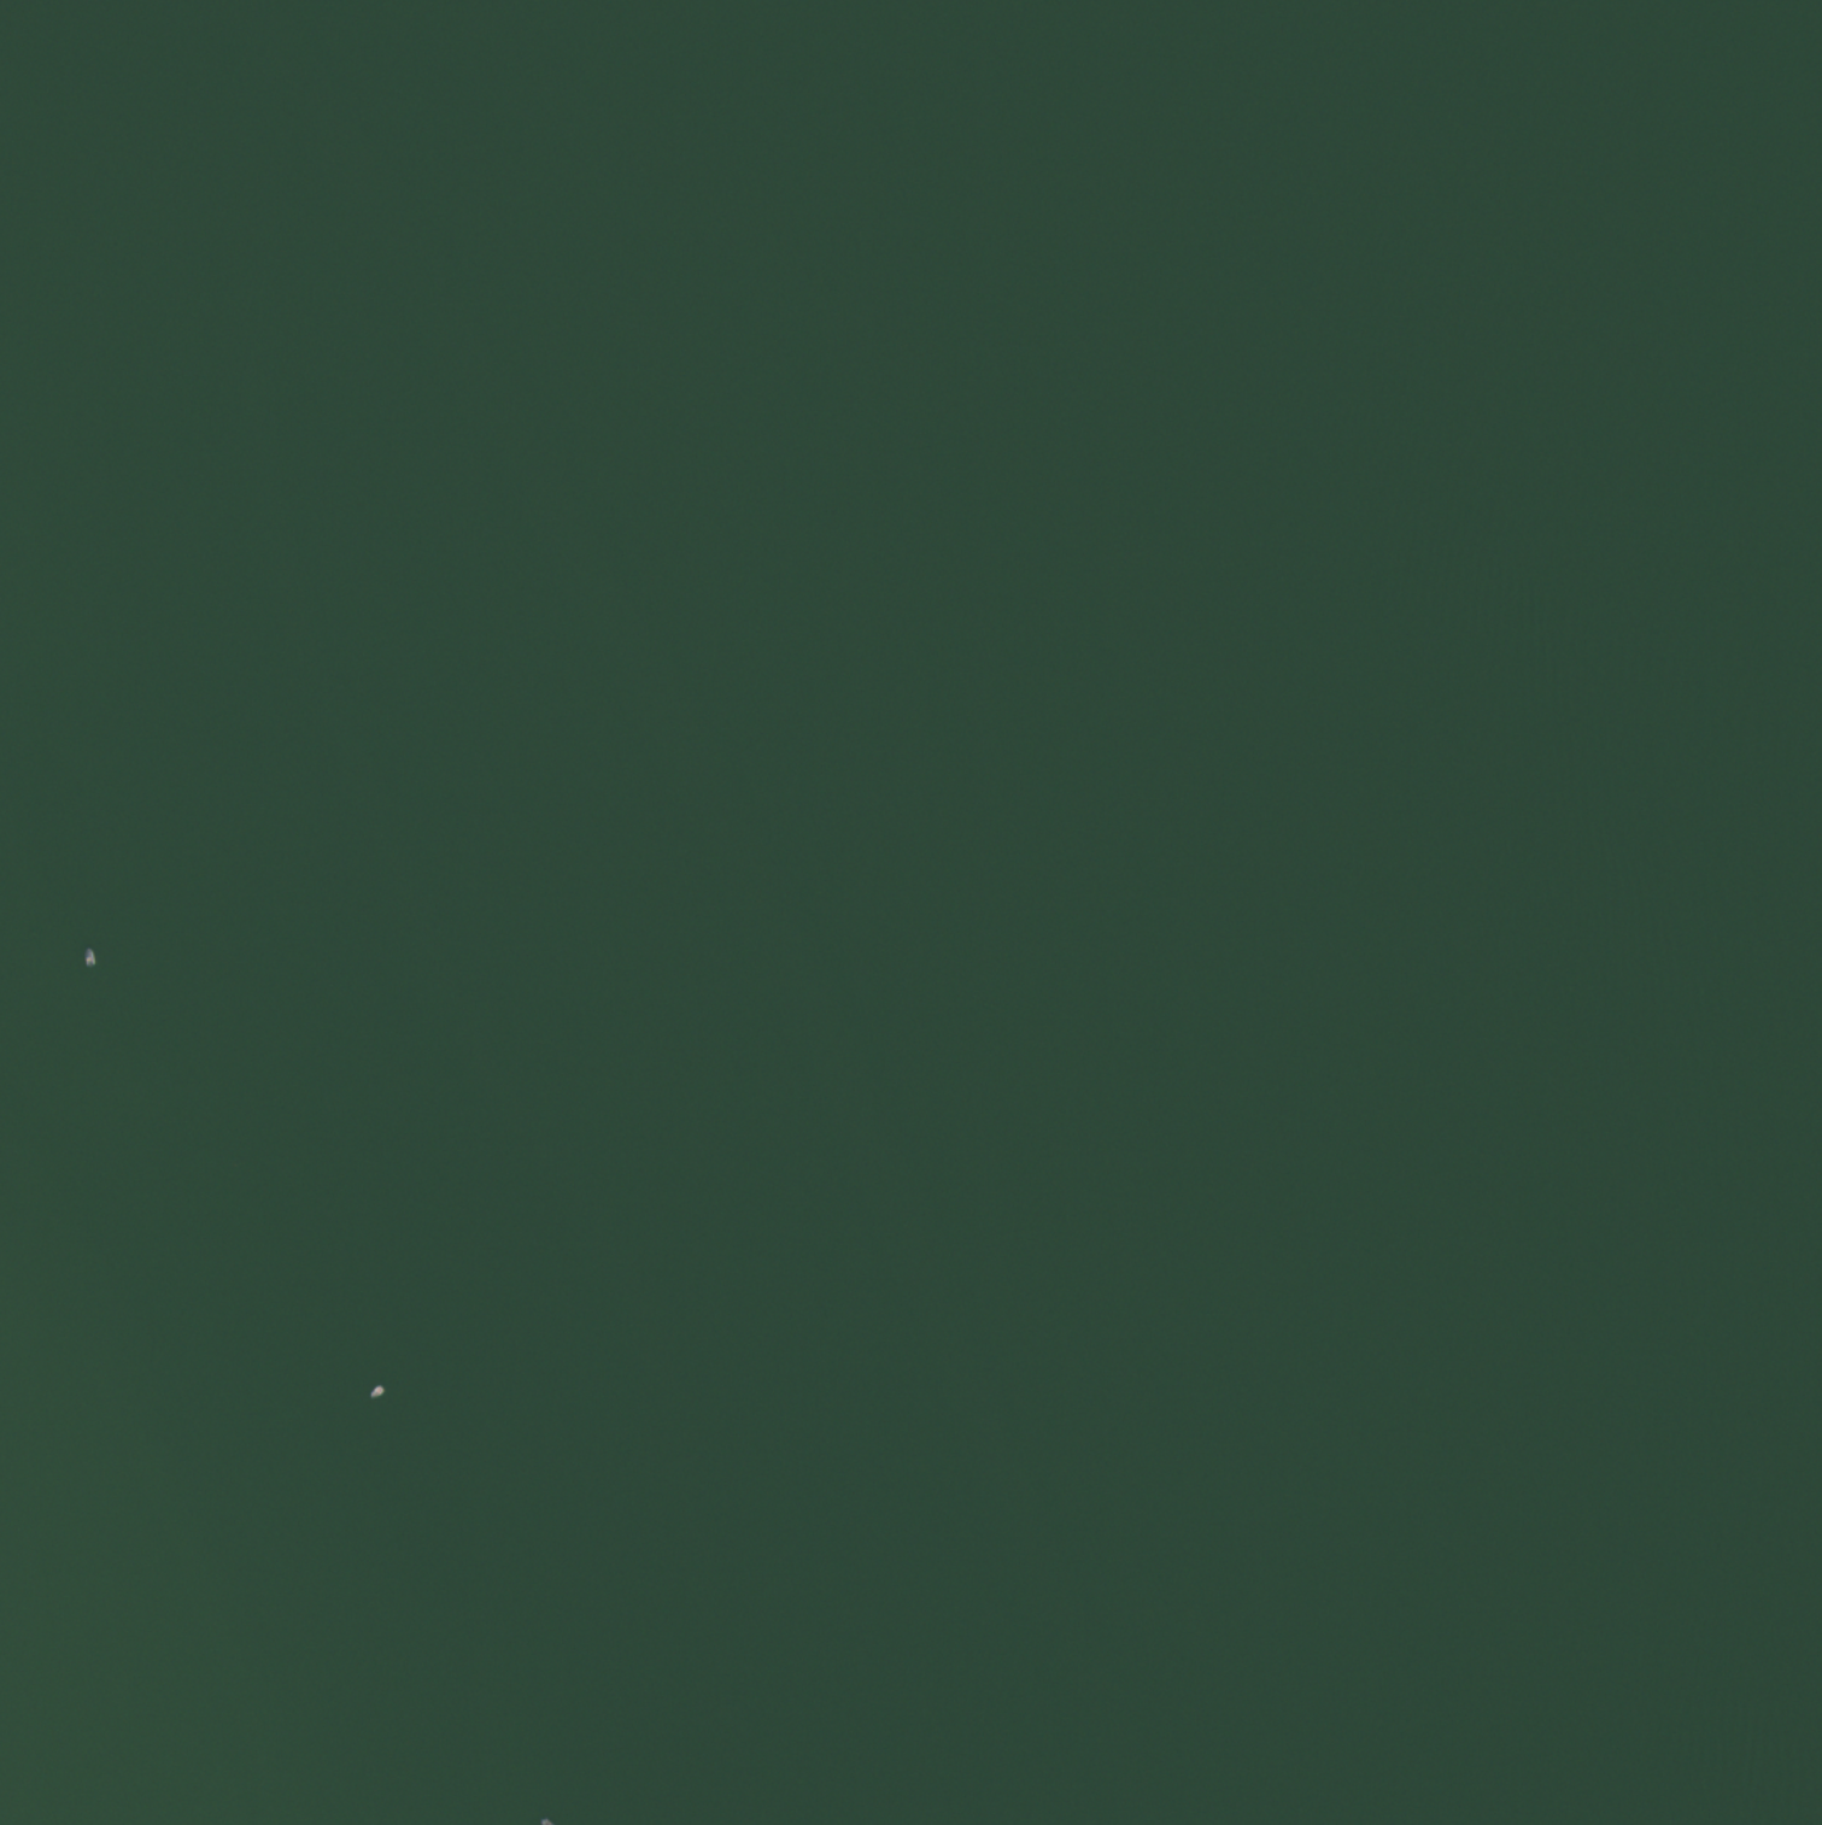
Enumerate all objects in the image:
river: (1782, 246)

